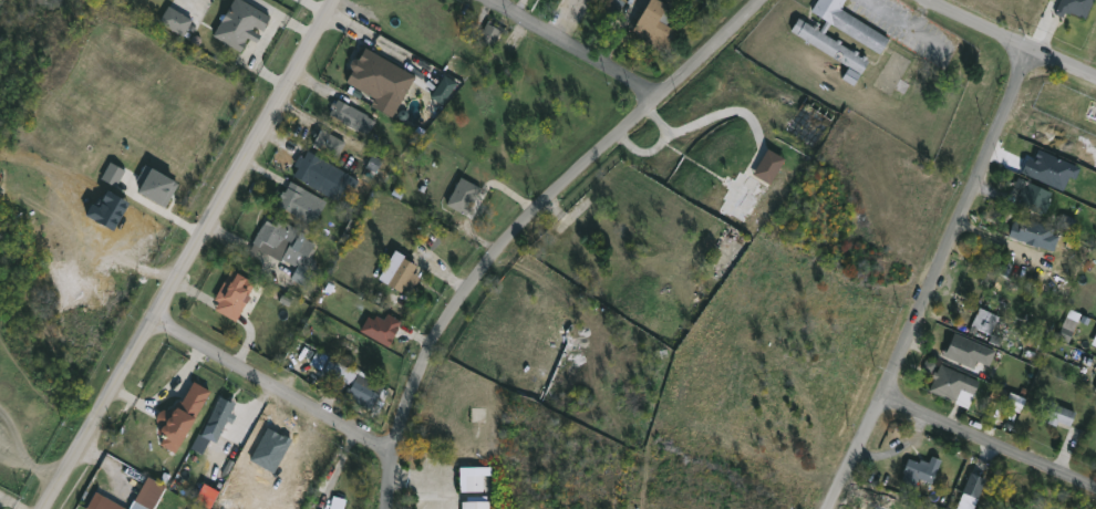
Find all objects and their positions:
building: (1075, 7)
road: (318, 8)
building: (655, 25)
building: (490, 34)
building: (868, 37)
road: (1004, 42)
road: (575, 49)
building: (379, 75)
road: (723, 112)
building: (350, 114)
building: (325, 142)
road: (659, 145)
building: (322, 173)
building: (449, 186)
building: (1034, 195)
building: (465, 198)
building: (301, 200)
road: (531, 224)
building: (1069, 226)
building: (1033, 232)
building: (287, 247)
road: (194, 254)
building: (400, 270)
road: (935, 282)
building: (235, 297)
building: (985, 319)
building: (969, 351)
building: (952, 382)
building: (353, 383)
road: (272, 386)
building: (1095, 388)
building: (221, 409)
building: (1058, 413)
road: (991, 445)
building: (478, 459)
building: (921, 470)
road: (425, 475)
building: (476, 487)
building: (149, 497)
road: (12, 502)
building: (340, 503)
building: (110, 505)

